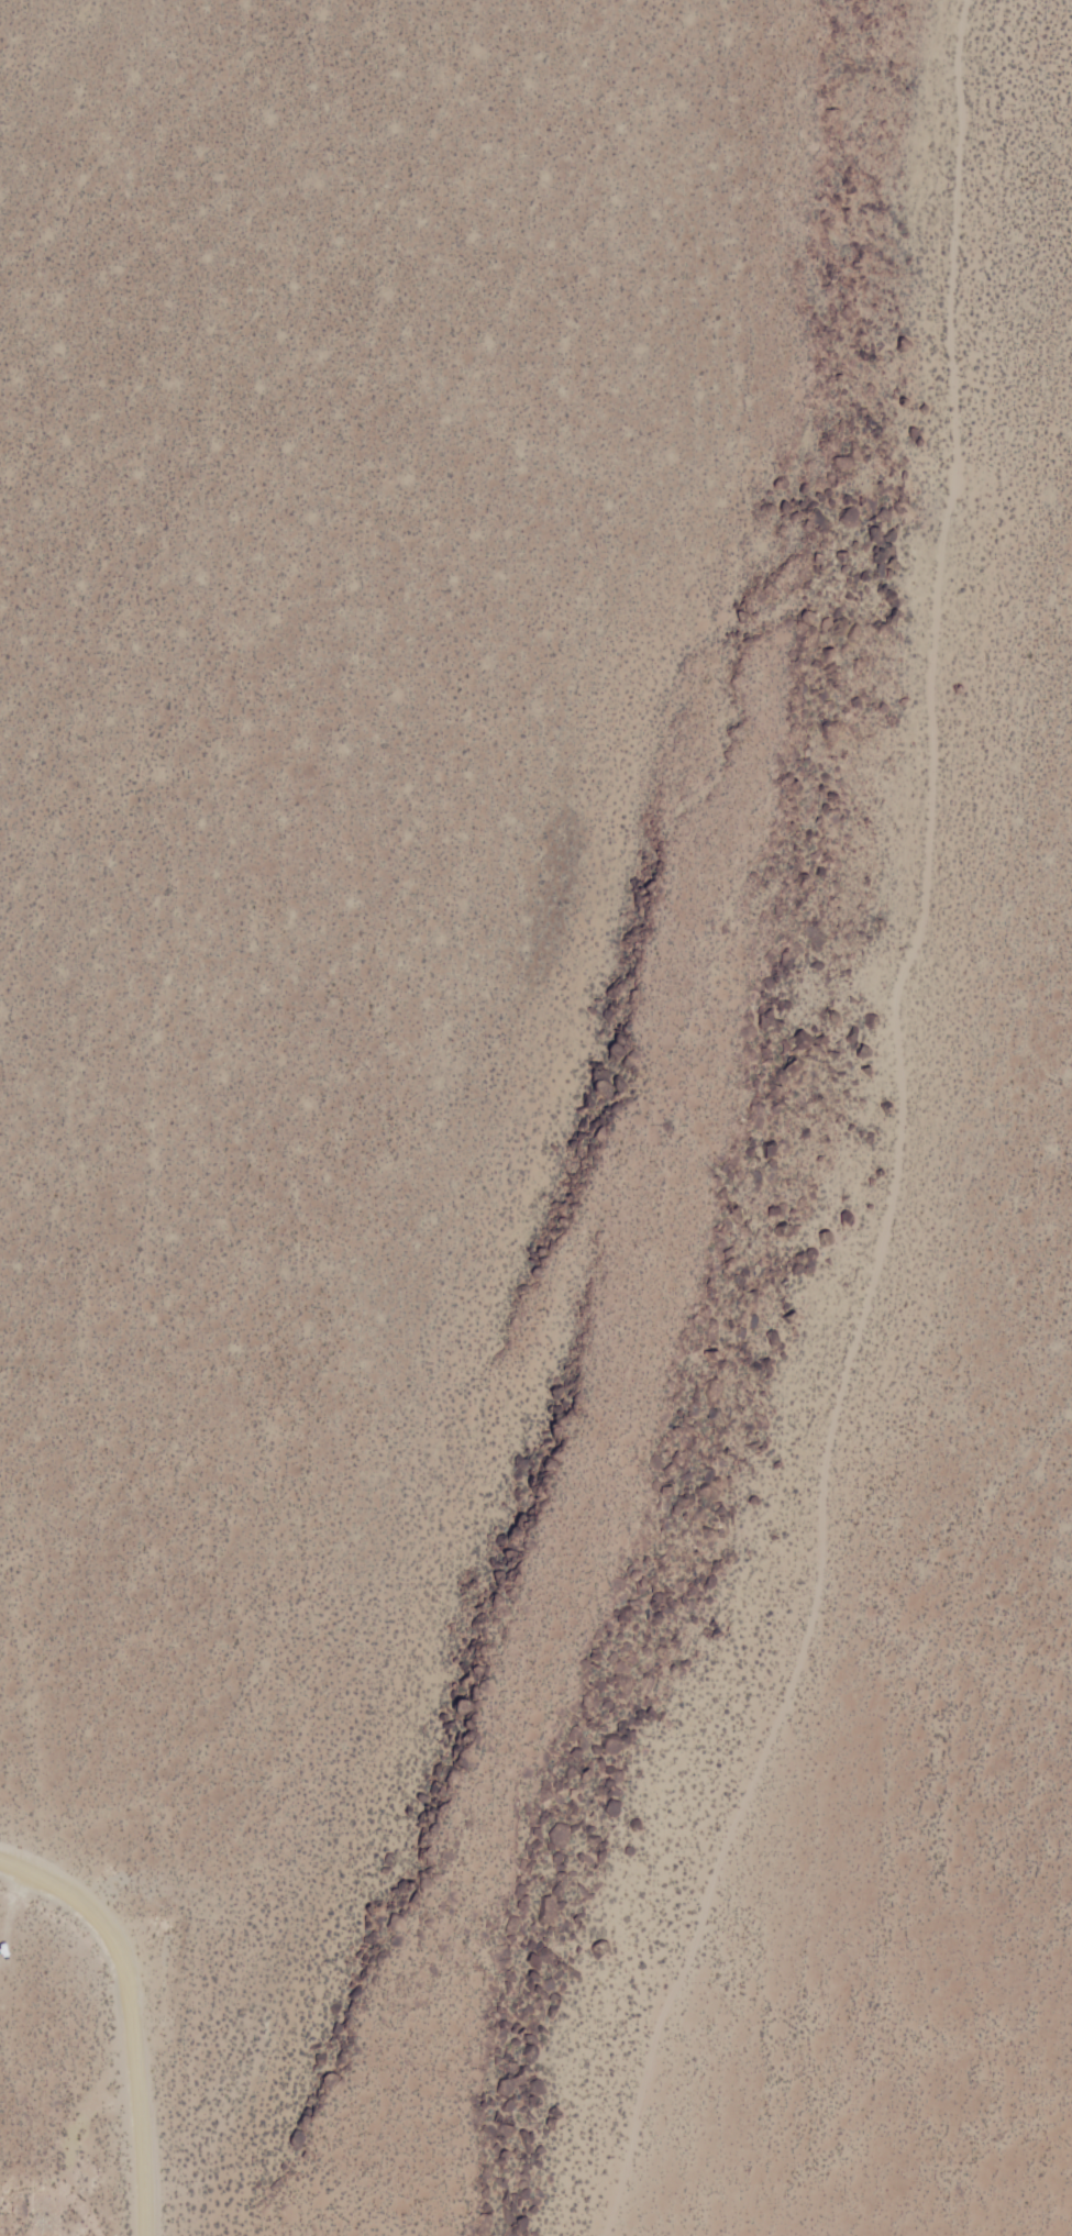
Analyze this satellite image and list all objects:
road: (916, 1141)
road: (135, 2015)

